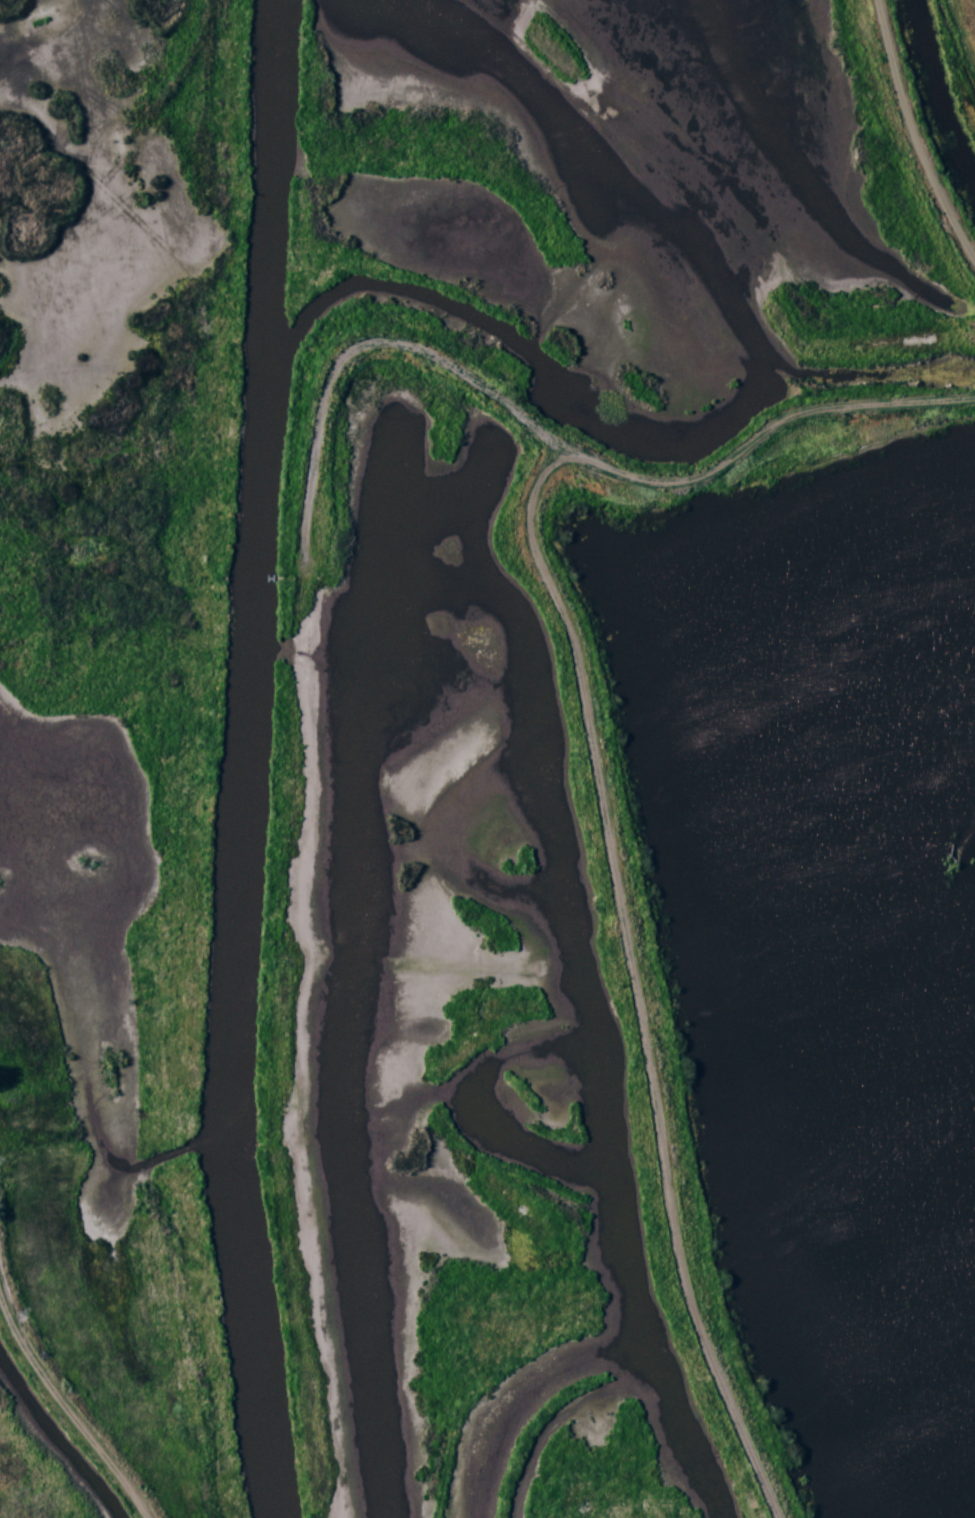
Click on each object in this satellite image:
river: (287, 204)
river: (251, 963)

